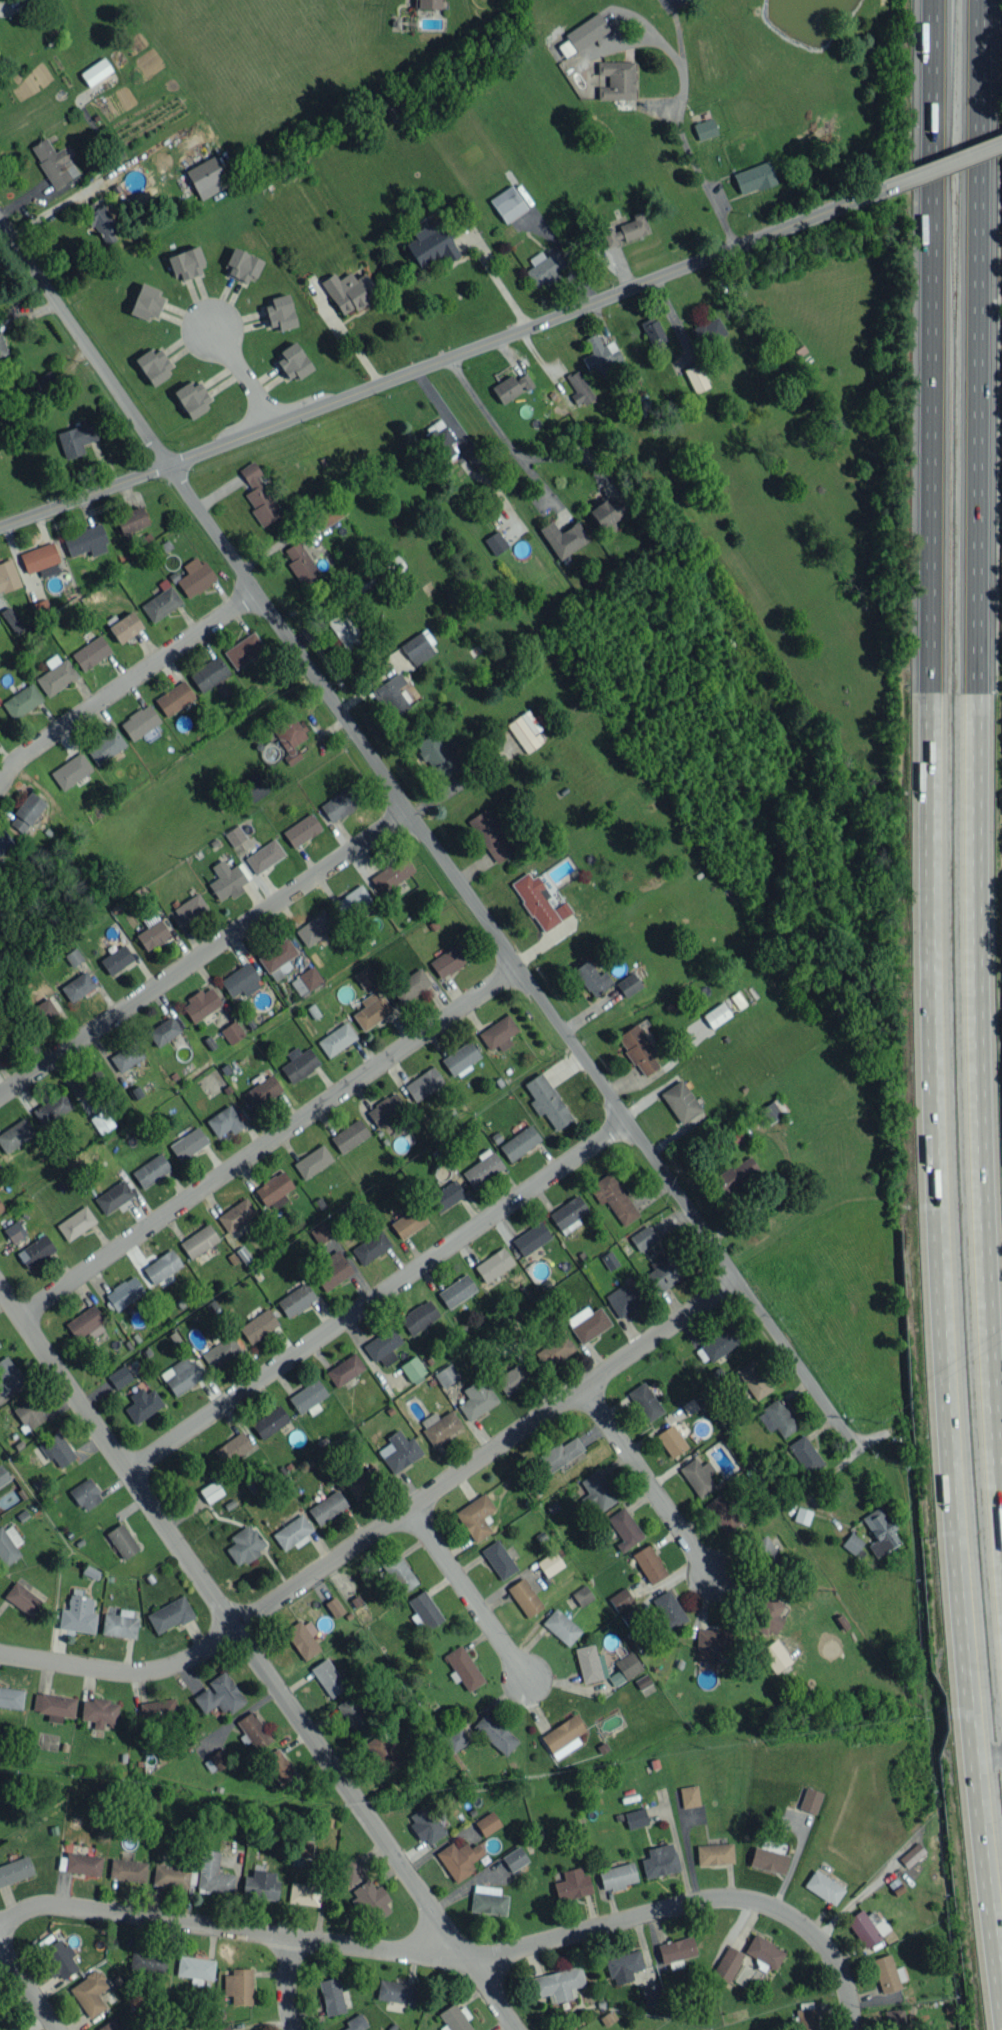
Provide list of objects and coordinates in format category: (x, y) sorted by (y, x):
building: (31, 1)
building: (427, 4)
building: (586, 31)
building: (565, 47)
building: (95, 71)
building: (616, 79)
road: (682, 128)
building: (704, 128)
building: (53, 162)
road: (944, 167)
building: (206, 177)
building: (753, 177)
building: (507, 203)
road: (50, 209)
building: (100, 222)
building: (625, 230)
building: (430, 243)
building: (186, 263)
building: (241, 264)
building: (543, 267)
road: (495, 277)
building: (348, 290)
building: (146, 301)
building: (279, 312)
building: (652, 330)
building: (708, 331)
road: (345, 339)
building: (2, 346)
building: (601, 355)
road: (443, 360)
building: (293, 361)
building: (152, 365)
road: (241, 374)
building: (696, 378)
building: (43, 384)
building: (510, 387)
building: (578, 388)
building: (191, 399)
road: (432, 401)
road: (503, 431)
building: (75, 438)
building: (442, 441)
building: (472, 457)
building: (258, 495)
building: (606, 512)
building: (328, 513)
building: (130, 519)
building: (563, 537)
building: (85, 540)
building: (495, 542)
building: (40, 559)
building: (301, 563)
building: (8, 575)
building: (194, 576)
building: (160, 603)
building: (11, 619)
building: (123, 625)
building: (344, 629)
building: (418, 647)
building: (243, 649)
building: (90, 652)
building: (209, 673)
building: (56, 674)
road: (124, 683)
building: (391, 695)
building: (174, 697)
building: (21, 700)
building: (139, 721)
road: (981, 726)
building: (528, 728)
building: (289, 736)
building: (105, 746)
building: (435, 756)
building: (70, 770)
building: (254, 786)
building: (338, 804)
building: (26, 812)
building: (301, 829)
building: (234, 835)
building: (490, 835)
road: (428, 839)
building: (4, 842)
building: (264, 855)
building: (391, 874)
building: (227, 879)
building: (350, 901)
building: (538, 901)
building: (189, 907)
building: (314, 927)
building: (152, 934)
road: (204, 954)
building: (73, 956)
building: (277, 958)
building: (115, 959)
building: (448, 960)
building: (364, 977)
building: (591, 978)
building: (240, 980)
building: (305, 980)
building: (627, 984)
building: (410, 985)
building: (77, 986)
building: (200, 1004)
building: (43, 1010)
building: (371, 1010)
building: (716, 1014)
road: (931, 1016)
building: (163, 1030)
building: (231, 1031)
building: (497, 1033)
building: (7, 1035)
building: (336, 1039)
building: (637, 1049)
building: (126, 1056)
building: (460, 1058)
building: (298, 1063)
building: (88, 1081)
building: (423, 1083)
building: (261, 1091)
building: (546, 1100)
building: (680, 1101)
building: (51, 1108)
building: (385, 1109)
building: (769, 1111)
building: (101, 1121)
building: (223, 1121)
building: (14, 1134)
building: (349, 1135)
road: (268, 1142)
building: (519, 1142)
building: (187, 1143)
building: (312, 1161)
building: (482, 1168)
building: (150, 1170)
building: (734, 1174)
building: (274, 1189)
building: (445, 1195)
building: (113, 1196)
building: (613, 1198)
building: (1, 1207)
building: (236, 1214)
building: (568, 1214)
building: (407, 1221)
building: (75, 1222)
building: (14, 1231)
building: (319, 1232)
building: (642, 1237)
building: (530, 1238)
building: (198, 1240)
building: (370, 1247)
building: (35, 1251)
building: (609, 1259)
building: (493, 1264)
building: (161, 1266)
building: (331, 1270)
building: (667, 1272)
building: (456, 1290)
building: (124, 1292)
road: (375, 1296)
building: (295, 1299)
building: (623, 1299)
building: (418, 1316)
building: (85, 1323)
building: (587, 1323)
building: (257, 1325)
building: (719, 1343)
building: (383, 1346)
building: (220, 1351)
building: (554, 1351)
building: (344, 1369)
building: (413, 1370)
building: (8, 1374)
building: (446, 1374)
building: (180, 1375)
building: (118, 1376)
building: (511, 1378)
building: (753, 1379)
building: (307, 1397)
building: (476, 1398)
building: (644, 1401)
building: (142, 1404)
building: (28, 1413)
building: (776, 1417)
building: (269, 1421)
building: (439, 1425)
building: (671, 1440)
building: (232, 1448)
building: (56, 1449)
building: (398, 1451)
building: (558, 1454)
building: (805, 1454)
building: (3, 1475)
building: (698, 1476)
building: (364, 1480)
road: (646, 1481)
building: (210, 1491)
building: (597, 1491)
building: (85, 1494)
building: (326, 1507)
building: (722, 1513)
building: (802, 1515)
building: (475, 1516)
road: (383, 1525)
building: (624, 1528)
building: (879, 1530)
building: (291, 1531)
building: (122, 1540)
building: (851, 1543)
building: (244, 1544)
building: (8, 1545)
building: (767, 1554)
building: (498, 1559)
building: (549, 1563)
building: (648, 1563)
building: (398, 1572)
road: (471, 1593)
building: (582, 1595)
building: (524, 1597)
building: (22, 1598)
building: (620, 1599)
building: (334, 1606)
building: (424, 1609)
building: (668, 1609)
building: (78, 1614)
building: (169, 1614)
building: (768, 1616)
building: (120, 1624)
building: (561, 1626)
building: (303, 1638)
building: (714, 1641)
building: (774, 1655)
road: (258, 1658)
building: (590, 1663)
building: (463, 1667)
building: (624, 1667)
building: (327, 1677)
building: (642, 1681)
building: (218, 1694)
building: (11, 1697)
building: (53, 1705)
building: (157, 1709)
building: (98, 1711)
building: (353, 1714)
building: (253, 1730)
building: (494, 1733)
building: (562, 1736)
building: (455, 1739)
building: (381, 1752)
road: (985, 1755)
building: (216, 1760)
building: (279, 1767)
building: (689, 1795)
building: (810, 1800)
building: (635, 1817)
building: (487, 1823)
building: (426, 1824)
building: (302, 1848)
building: (714, 1853)
building: (911, 1854)
building: (459, 1858)
building: (514, 1858)
building: (768, 1859)
building: (659, 1860)
building: (82, 1863)
building: (14, 1869)
building: (127, 1869)
building: (350, 1871)
building: (212, 1874)
building: (170, 1875)
building: (616, 1876)
building: (260, 1884)
building: (571, 1884)
building: (823, 1886)
building: (303, 1893)
building: (371, 1899)
building: (487, 1900)
building: (862, 1928)
building: (675, 1951)
building: (763, 1951)
road: (463, 1953)
building: (58, 1958)
building: (147, 1961)
building: (726, 1963)
building: (623, 1966)
building: (195, 1968)
building: (887, 1973)
road: (285, 1983)
building: (557, 1983)
building: (238, 1985)
road: (29, 1988)
building: (394, 1991)
building: (89, 1992)
building: (651, 1993)
building: (331, 1995)
building: (806, 2015)
building: (454, 2018)
building: (893, 2019)
building: (355, 2022)
building: (111, 2025)
building: (255, 2029)

